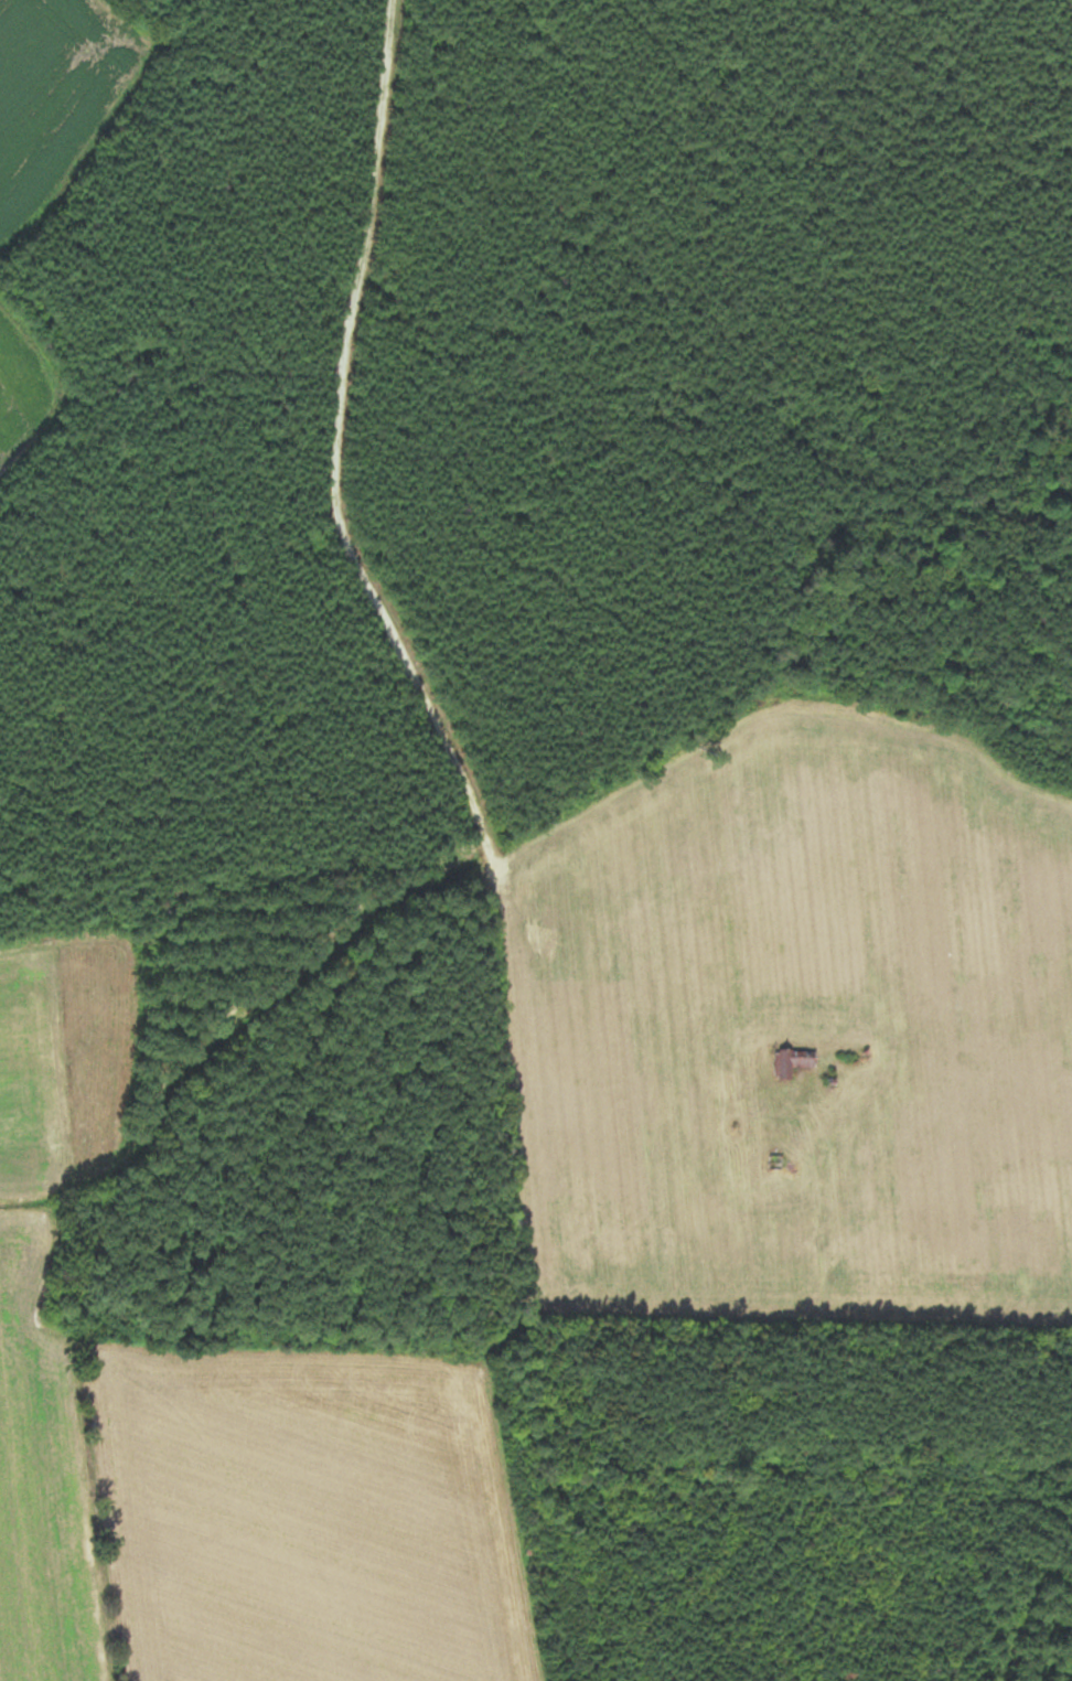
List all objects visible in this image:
road: (416, 639)
building: (786, 1060)

